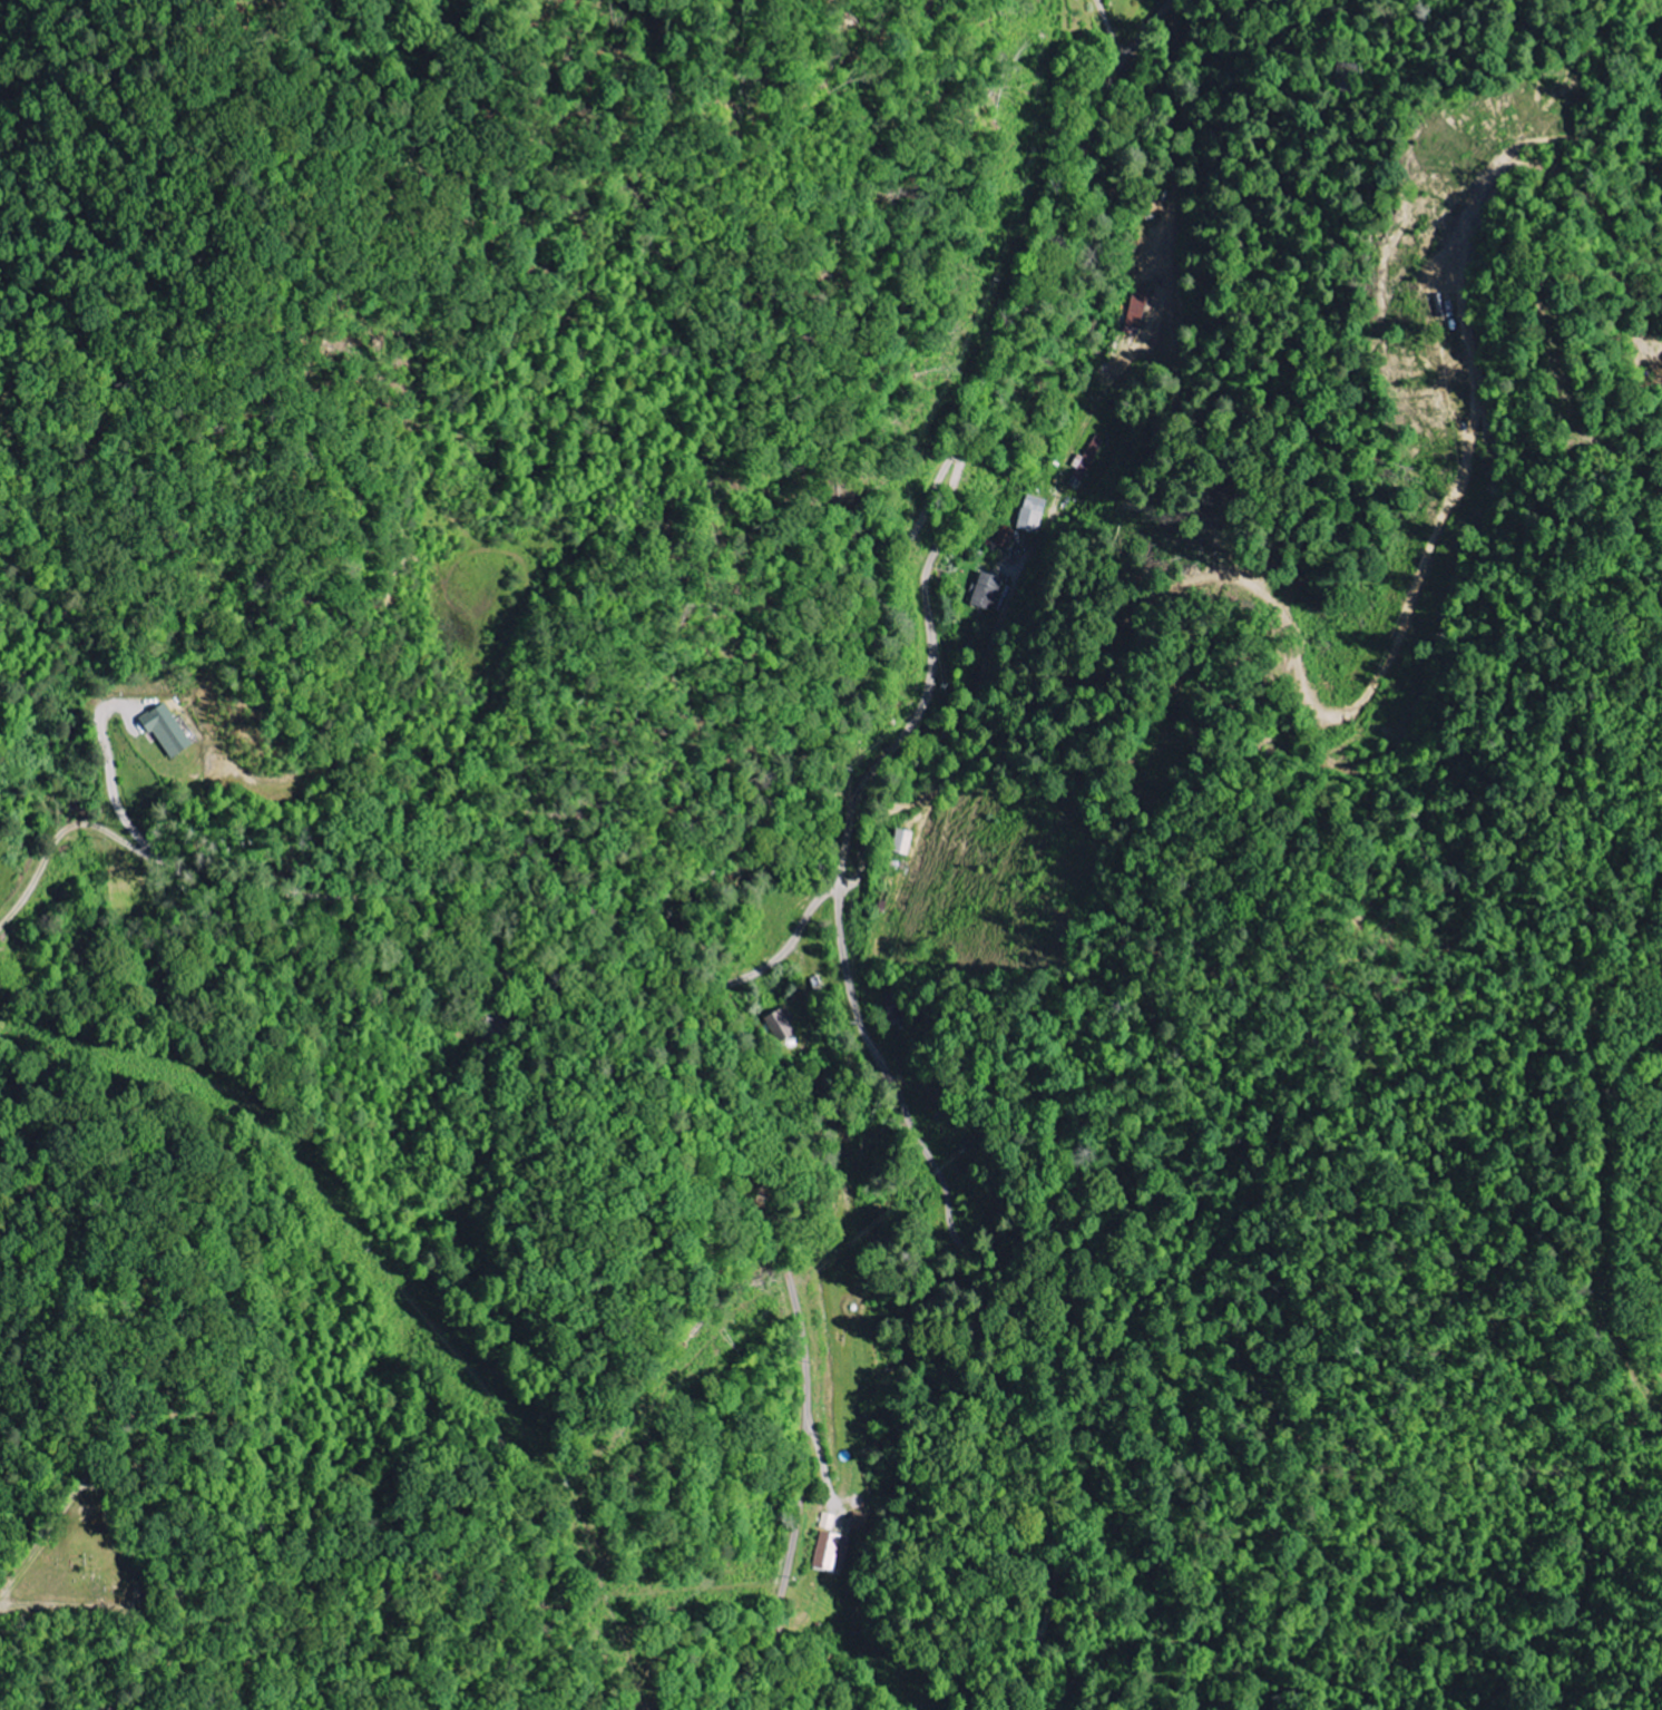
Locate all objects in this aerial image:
building: (1084, 466)
building: (1032, 515)
building: (1005, 537)
building: (987, 592)
road: (947, 731)
building: (169, 733)
building: (905, 842)
road: (685, 885)
road: (698, 989)
building: (893, 1008)
road: (976, 1300)
road: (852, 1466)
building: (831, 1551)
road: (16, 1606)

